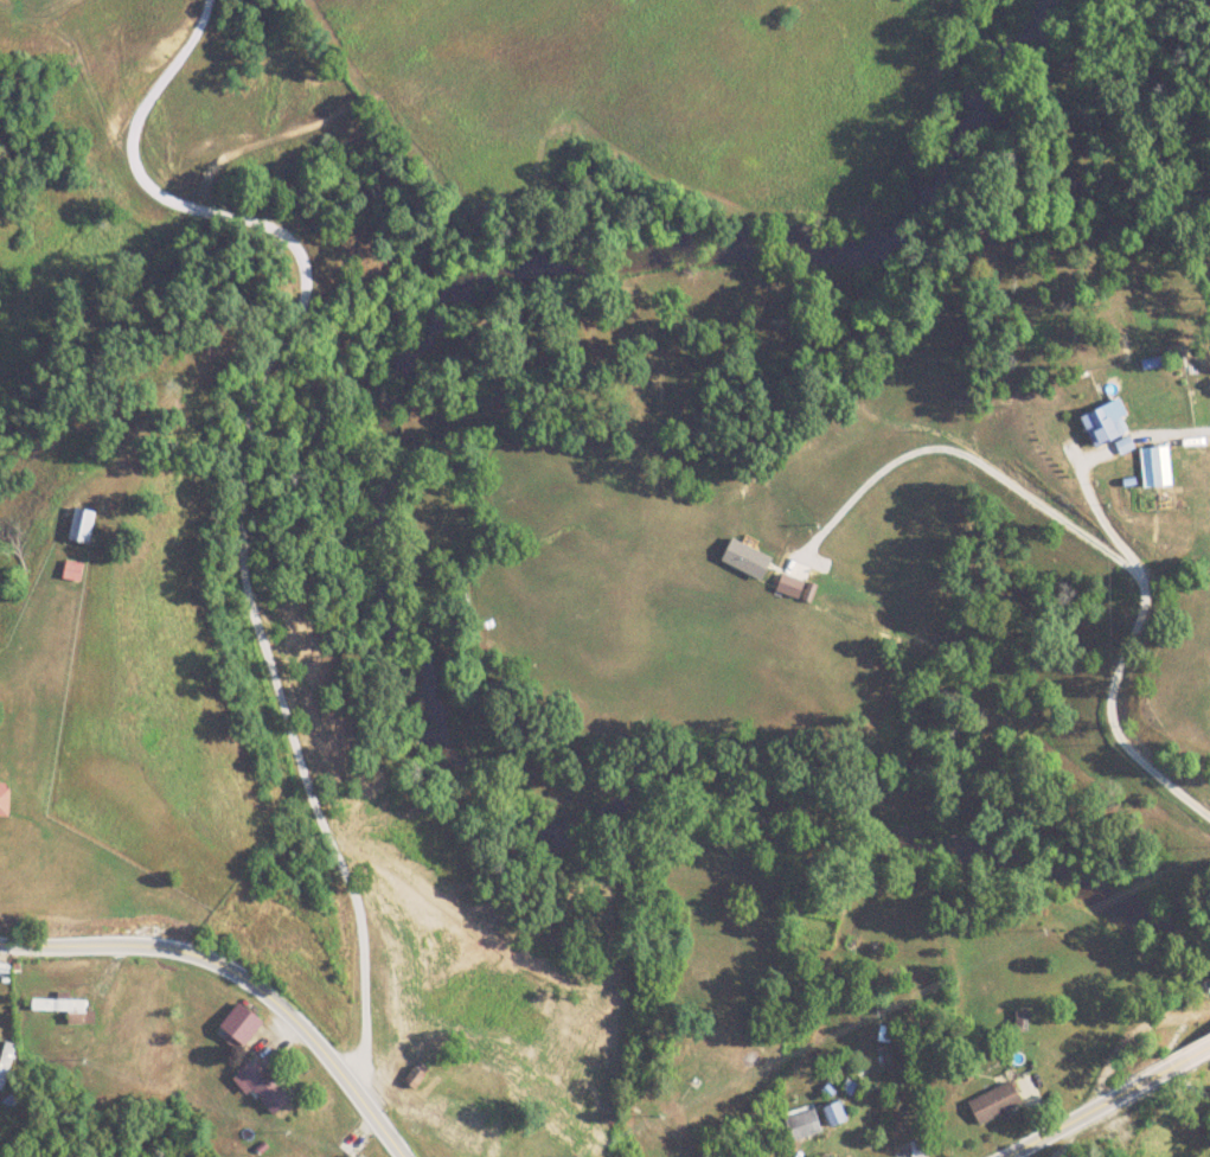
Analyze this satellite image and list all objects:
building: (1102, 426)
building: (1154, 467)
road: (243, 503)
building: (81, 526)
river: (360, 564)
building: (71, 571)
road: (1125, 653)
building: (4, 801)
road: (238, 976)
building: (238, 1025)
building: (393, 1060)
building: (415, 1075)
building: (263, 1085)
building: (995, 1102)
road: (1115, 1104)
building: (479, 1118)
building: (802, 1124)
building: (466, 1143)

